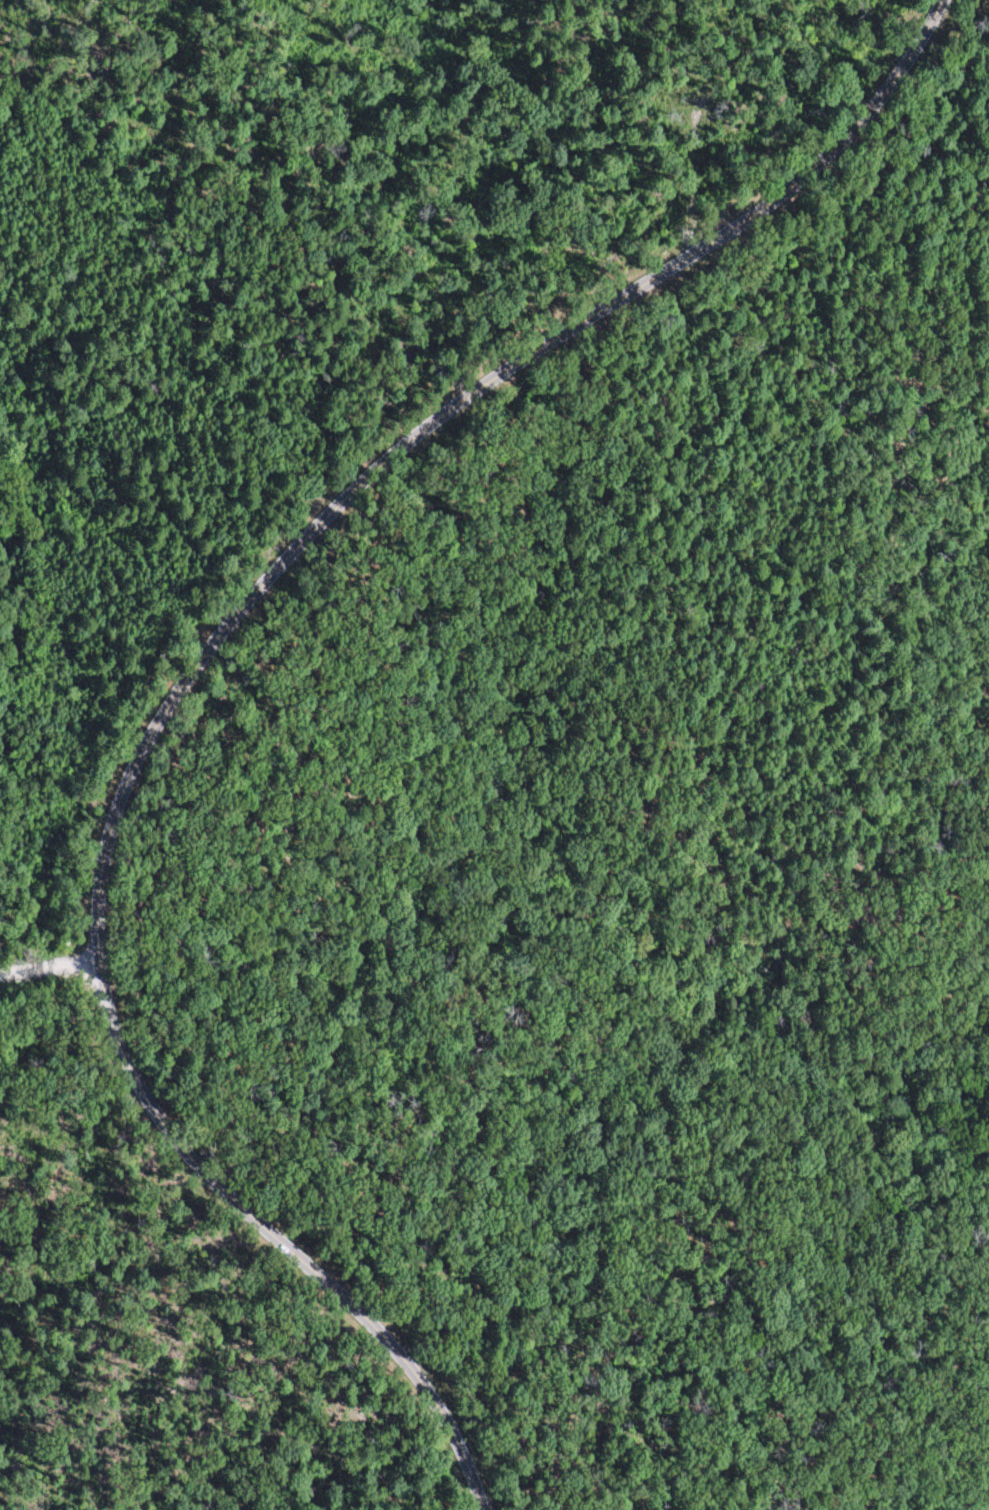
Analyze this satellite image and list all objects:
road: (193, 660)
road: (46, 957)

